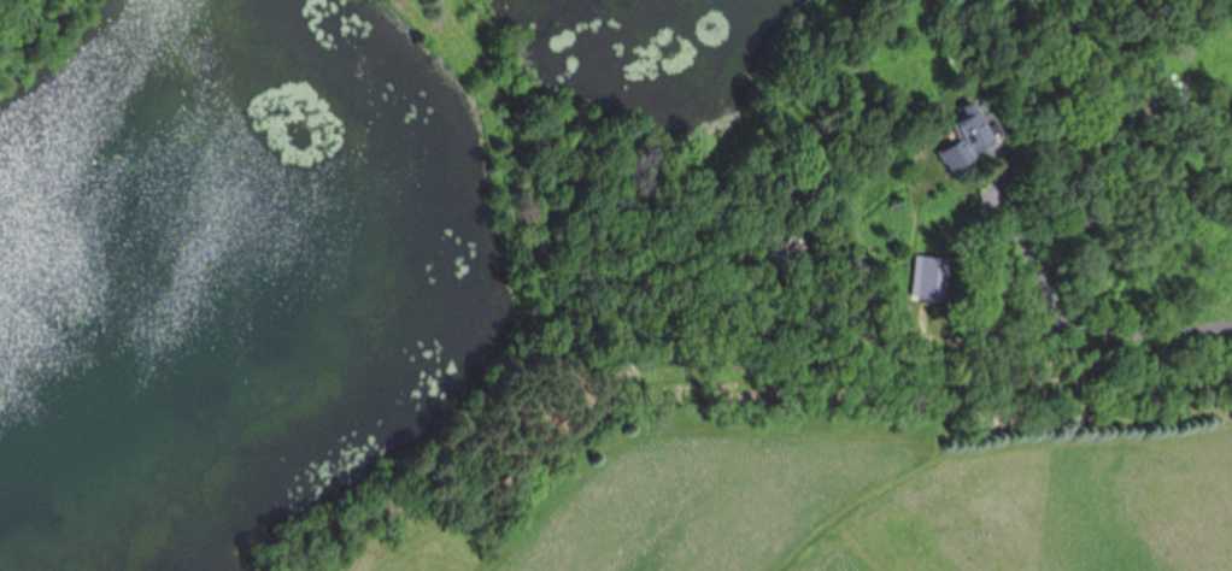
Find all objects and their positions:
building: (972, 137)
road: (1025, 247)
building: (786, 251)
building: (929, 277)
road: (1128, 329)

